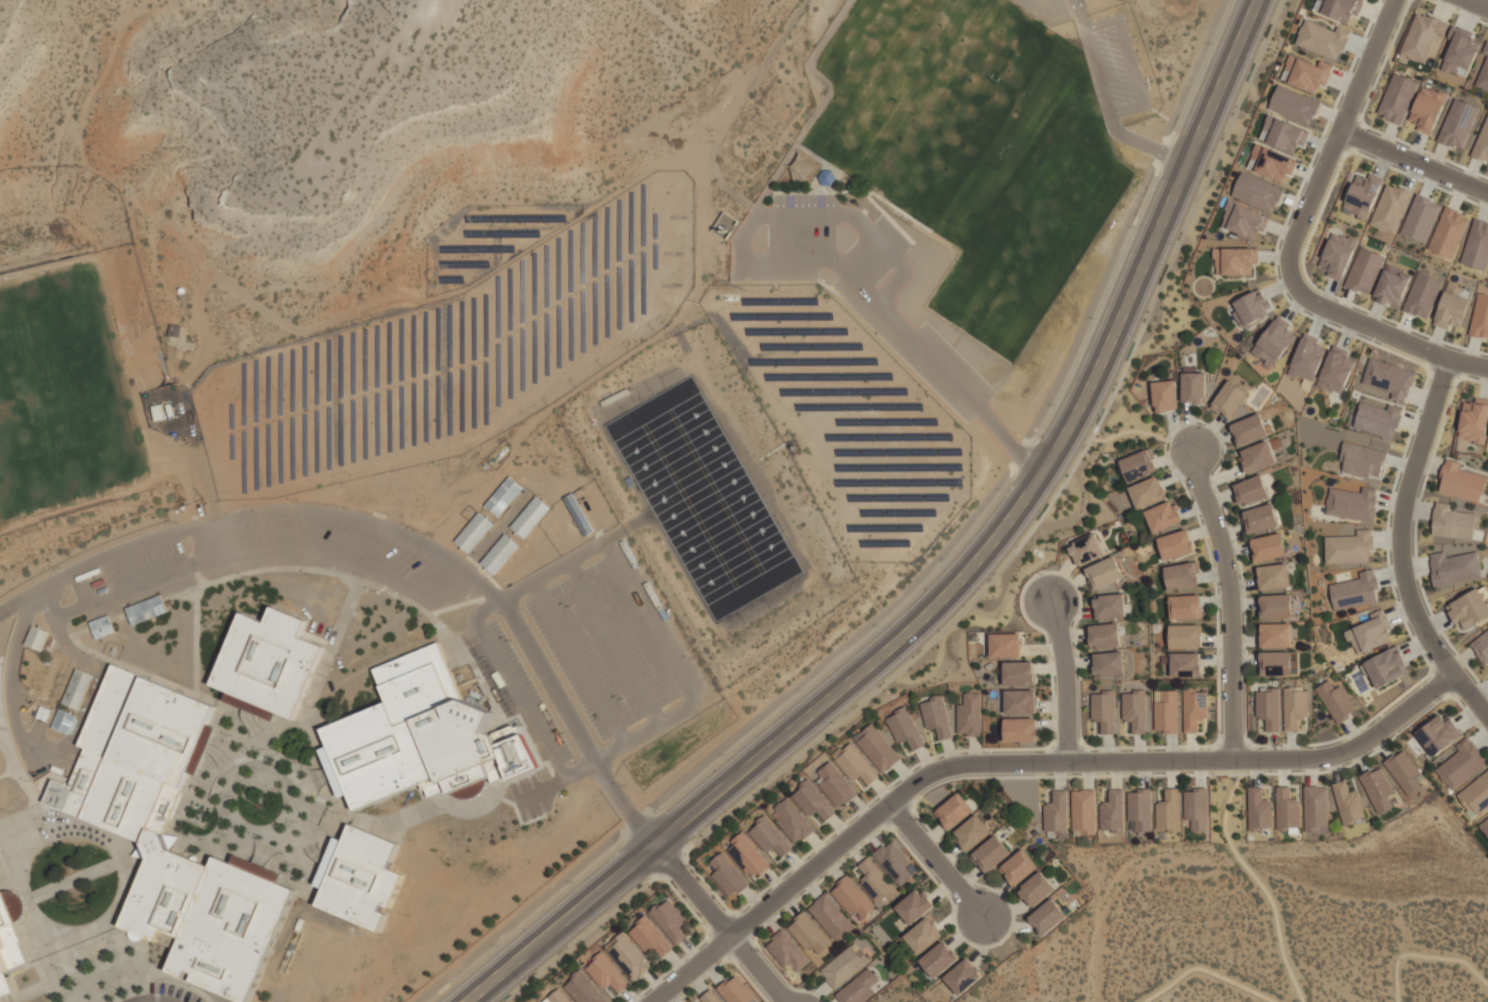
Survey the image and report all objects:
road: (1480, 3)
building: (1341, 9)
building: (1421, 38)
building: (1321, 39)
building: (1459, 52)
parking lot: (1112, 66)
building: (1483, 71)
building: (1305, 73)
road: (1106, 94)
building: (1396, 98)
building: (1293, 105)
building: (1426, 110)
building: (1457, 124)
building: (1282, 134)
building: (1482, 142)
park: (975, 148)
road: (1415, 162)
building: (1271, 163)
building: (800, 167)
building: (1256, 192)
building: (1362, 195)
building: (1390, 208)
building: (1420, 218)
road: (1304, 219)
building: (1243, 220)
building: (1447, 233)
solar farm: (486, 240)
building: (1476, 246)
building: (1337, 255)
road: (806, 261)
building: (1235, 261)
building: (1363, 270)
parking lot: (852, 276)
street lamp: (1280, 278)
building: (1392, 286)
building: (1421, 295)
building: (1252, 306)
building: (1451, 307)
building: (1479, 318)
building: (1274, 341)
solar farm: (451, 355)
building: (1307, 358)
road: (1468, 364)
building: (1336, 370)
building: (1389, 378)
street lamp: (1452, 386)
building: (1195, 387)
building: (1165, 395)
building: (1230, 399)
street lamp: (1056, 405)
solar farm: (846, 419)
building: (1379, 419)
building: (1474, 421)
street lamp: (1094, 427)
building: (1250, 429)
street lamp: (1168, 443)
building: (1258, 457)
building: (1363, 460)
building: (1139, 464)
building: (1462, 482)
street lamp: (1004, 489)
building: (1252, 490)
building: (1147, 492)
building: (502, 496)
park: (700, 497)
street lamp: (297, 499)
building: (1353, 503)
street lamp: (1041, 512)
building: (1164, 516)
building: (529, 517)
building: (1262, 518)
road: (1406, 519)
street lamp: (175, 522)
building: (1454, 522)
street lamp: (418, 529)
road: (391, 532)
building: (473, 532)
building: (1176, 544)
building: (1270, 547)
building: (1350, 547)
building: (1087, 549)
building: (499, 554)
road: (571, 558)
street lamp: (948, 560)
street lamp: (642, 565)
street lamp: (58, 567)
building: (1455, 567)
building: (1104, 572)
street lamp: (1042, 573)
street lamp: (310, 574)
building: (1183, 575)
street lamp: (248, 576)
building: (1275, 576)
road: (919, 579)
road: (951, 580)
road: (978, 583)
street lamp: (374, 590)
street lamp: (979, 590)
building: (1356, 591)
street lamp: (1399, 600)
street lamp: (174, 601)
road: (1230, 602)
building: (1110, 605)
street lamp: (571, 606)
building: (1186, 606)
building: (1278, 606)
building: (1469, 608)
building: (146, 609)
street lamp: (421, 615)
street lamp: (116, 624)
building: (101, 626)
street lamp: (881, 626)
building: (1371, 632)
building: (1105, 635)
building: (1277, 635)
building: (1186, 636)
building: (36, 638)
street lamp: (511, 640)
road: (617, 643)
building: (1006, 645)
building: (1481, 647)
parking lot: (603, 650)
street lamp: (93, 654)
street lamp: (695, 658)
street lamp: (909, 660)
road: (581, 662)
building: (1278, 663)
street lamp: (2, 664)
building: (267, 664)
building: (1109, 664)
building: (1186, 664)
building: (1387, 666)
building: (1019, 673)
building: (50, 676)
road: (1066, 681)
road: (512, 687)
building: (77, 689)
street lamp: (805, 690)
road: (1471, 694)
street lamp: (1440, 698)
street lamp: (624, 699)
building: (1021, 701)
building: (1337, 701)
road: (686, 704)
building: (1295, 707)
building: (1270, 708)
building: (1194, 709)
building: (1105, 710)
building: (1135, 710)
building: (1167, 711)
building: (970, 714)
building: (937, 716)
building: (63, 721)
parking lot: (526, 721)
street lamp: (834, 723)
street lamp: (6, 728)
building: (906, 728)
building: (1021, 729)
street lamp: (1221, 732)
street lamp: (563, 733)
building: (1439, 734)
street lamp: (231, 735)
building: (423, 737)
street lamp: (1057, 737)
building: (878, 747)
street lamp: (263, 749)
road: (64, 753)
street lamp: (727, 755)
street lamp: (296, 762)
road: (1024, 762)
building: (1462, 764)
building: (857, 765)
building: (1405, 772)
street lamp: (29, 780)
street lamp: (504, 784)
building: (836, 784)
street lamp: (624, 785)
street lamp: (756, 788)
building: (1379, 789)
street lamp: (230, 795)
building: (1476, 795)
building: (813, 800)
building: (1349, 803)
building: (1316, 807)
street lamp: (444, 808)
building: (1197, 808)
street lamp: (662, 809)
building: (1287, 809)
street lamp: (260, 810)
building: (954, 810)
building: (1140, 810)
building: (1259, 810)
building: (1084, 811)
building: (1169, 811)
street lamp: (11, 812)
street lamp: (337, 812)
building: (1057, 812)
building: (1113, 812)
street lamp: (916, 818)
building: (793, 820)
street lamp: (295, 821)
street lamp: (195, 822)
building: (135, 826)
building: (1484, 826)
building: (973, 832)
street lamp: (227, 835)
building: (770, 836)
street lamp: (413, 840)
street lamp: (90, 850)
building: (990, 854)
building: (749, 855)
road: (937, 861)
building: (894, 862)
street lamp: (294, 864)
street lamp: (687, 865)
building: (1019, 867)
street lamp: (34, 872)
building: (728, 875)
building: (359, 877)
building: (876, 881)
street lamp: (575, 882)
road: (1261, 884)
street lamp: (106, 889)
building: (1037, 889)
building: (852, 897)
building: (915, 906)
street lamp: (52, 912)
street lamp: (409, 915)
street lamp: (603, 916)
building: (831, 916)
building: (1047, 916)
building: (670, 920)
road: (718, 920)
park: (1270, 920)
street lamp: (323, 931)
building: (809, 933)
building: (924, 935)
building: (650, 936)
street lamp: (113, 942)
street lamp: (999, 942)
street lamp: (499, 946)
building: (10, 948)
road: (1428, 948)
street lamp: (757, 949)
building: (787, 951)
building: (628, 956)
building: (939, 959)
road: (1209, 960)
building: (845, 965)
street lamp: (61, 968)
street lamp: (291, 969)
building: (607, 973)
building: (963, 976)
building: (859, 988)
building: (584, 989)
parking lot: (174, 991)
building: (735, 991)
park: (899, 994)
building: (557, 997)
building: (710, 997)
road: (150, 1000)

